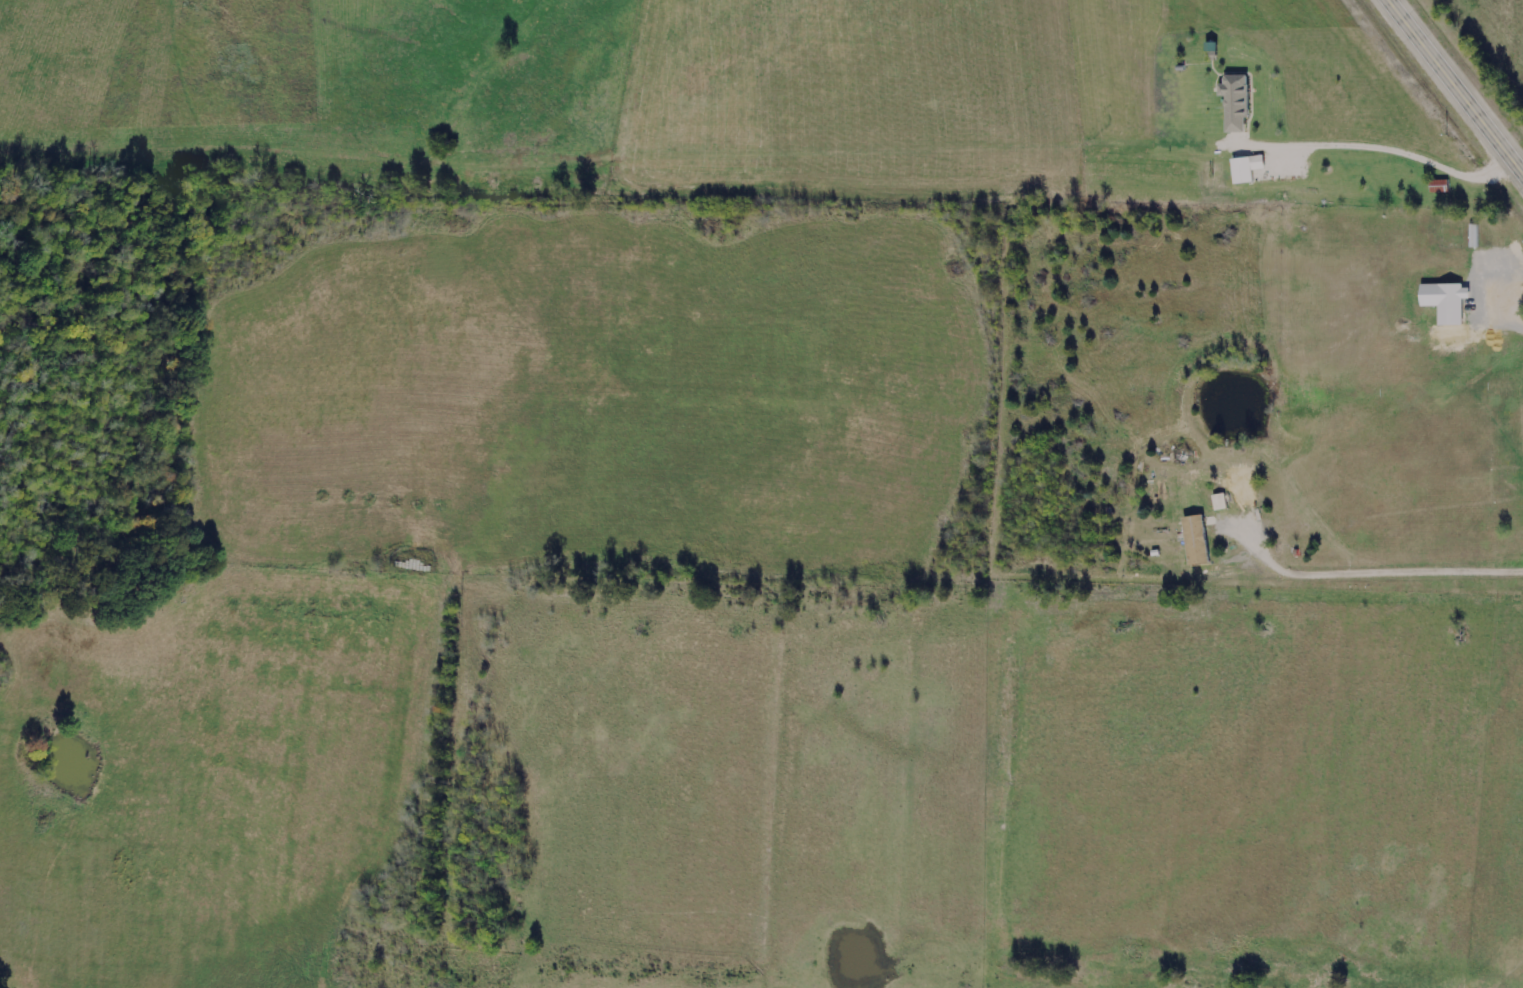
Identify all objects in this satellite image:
railway: (1468, 69)
road: (1457, 84)
building: (1237, 104)
building: (1247, 170)
building: (1441, 186)
building: (1476, 236)
building: (1450, 301)
building: (1222, 502)
building: (1207, 536)

